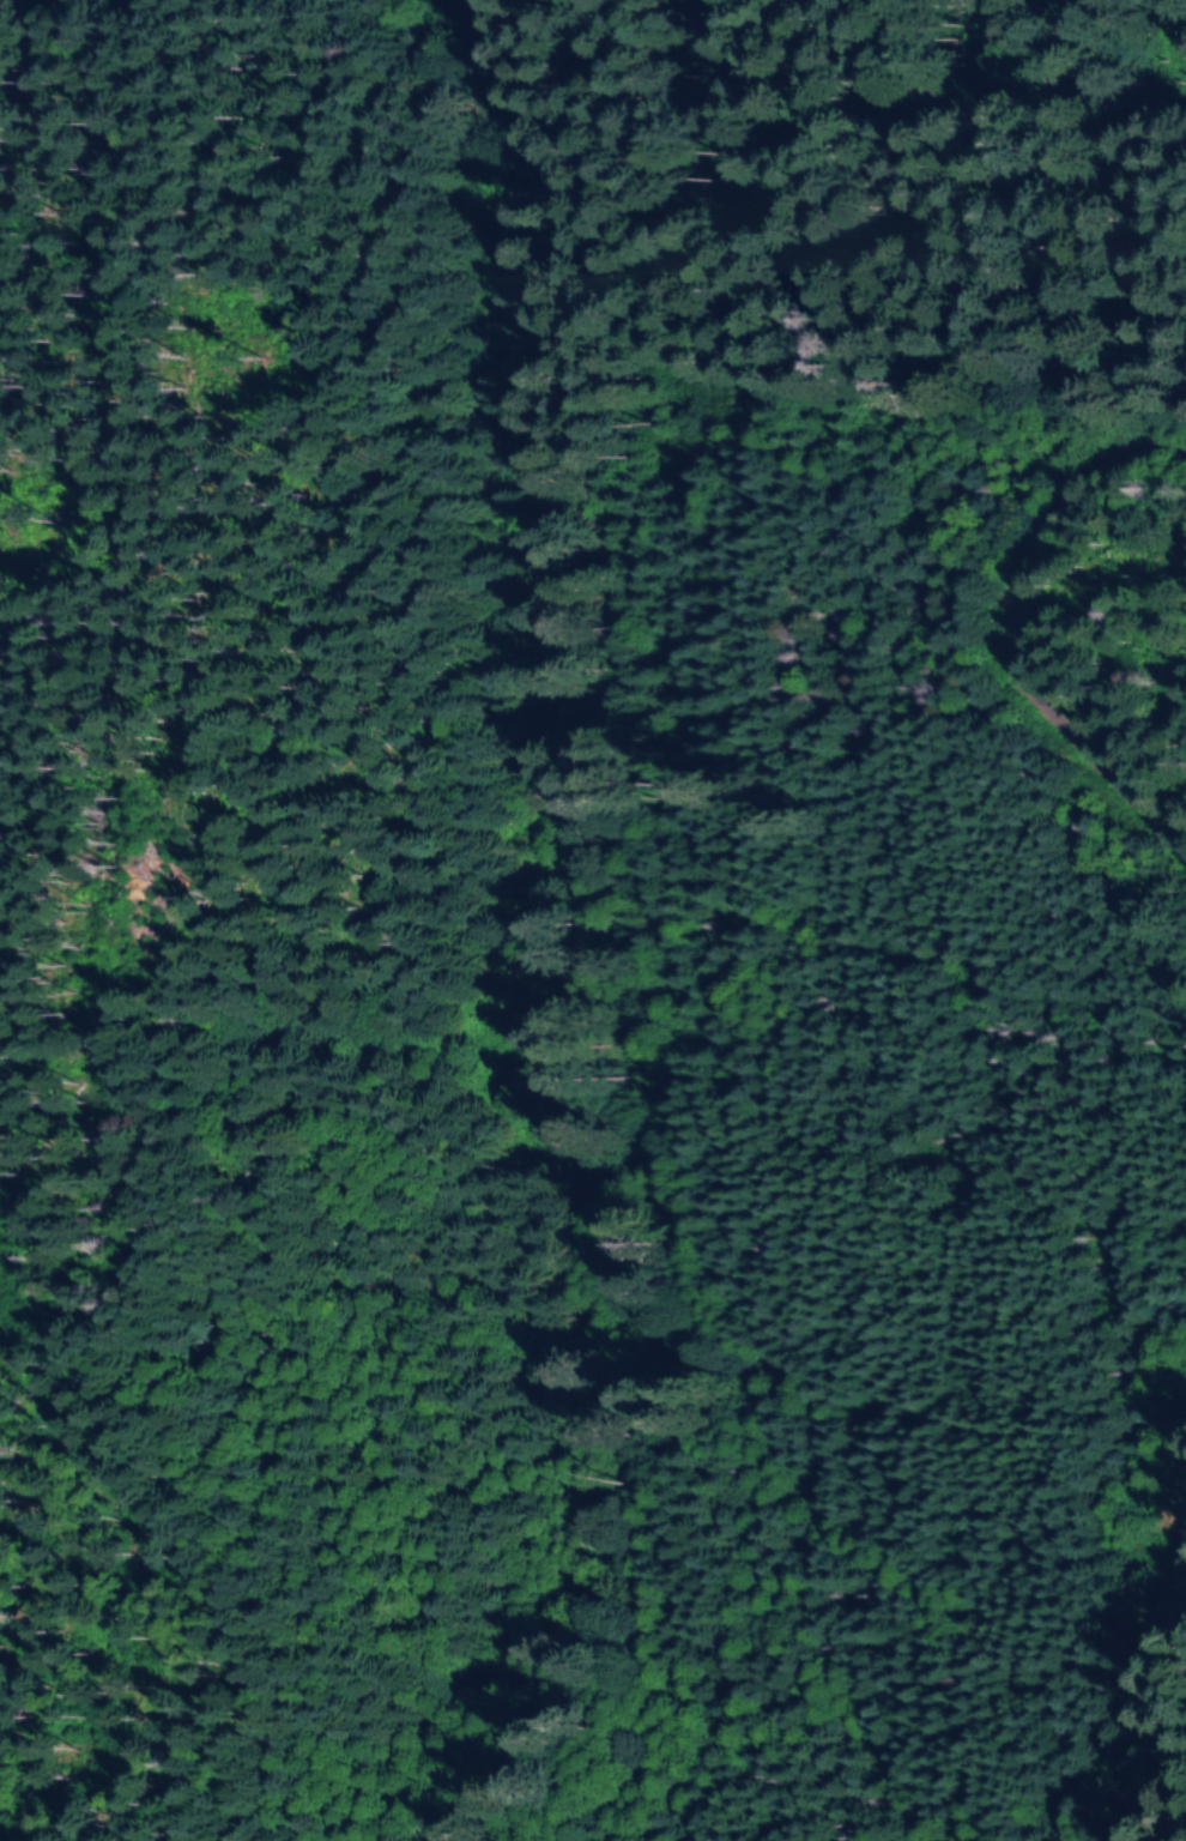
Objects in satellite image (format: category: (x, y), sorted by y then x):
road: (912, 740)

